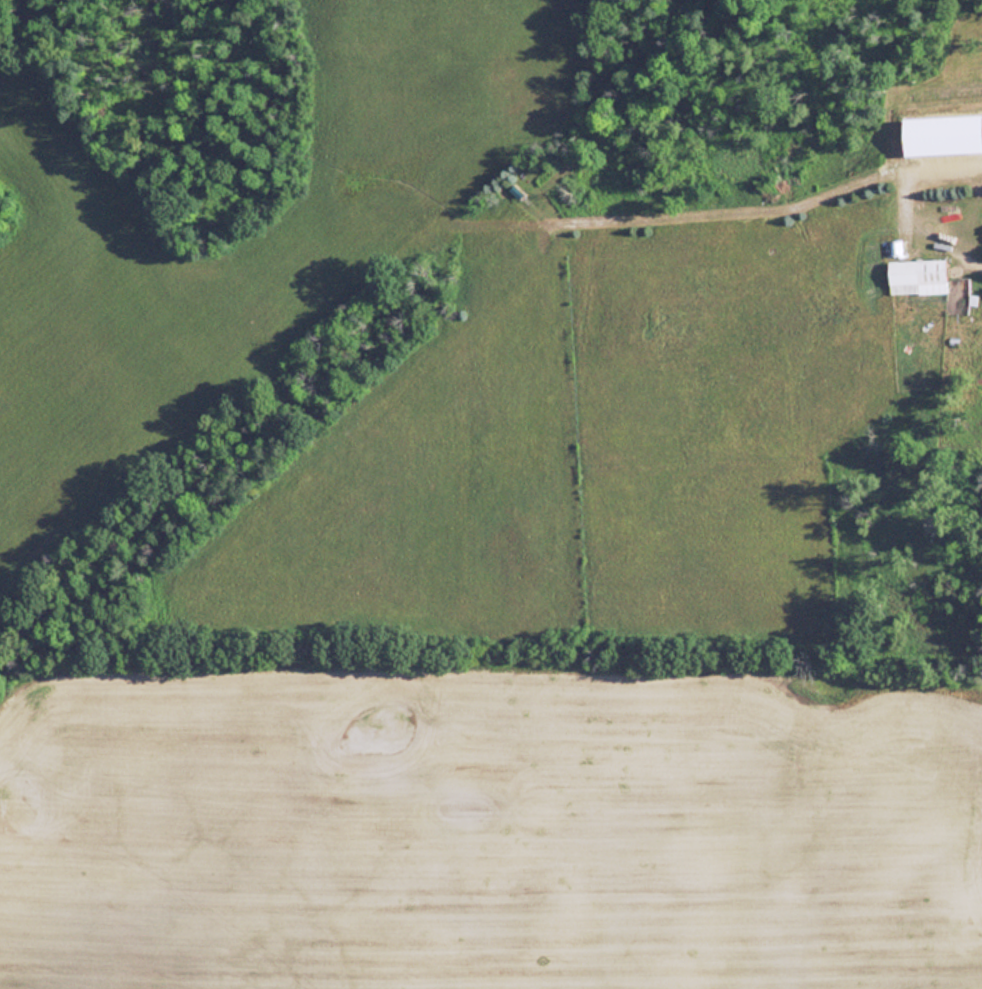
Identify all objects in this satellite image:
building: (918, 276)
building: (645, 324)

